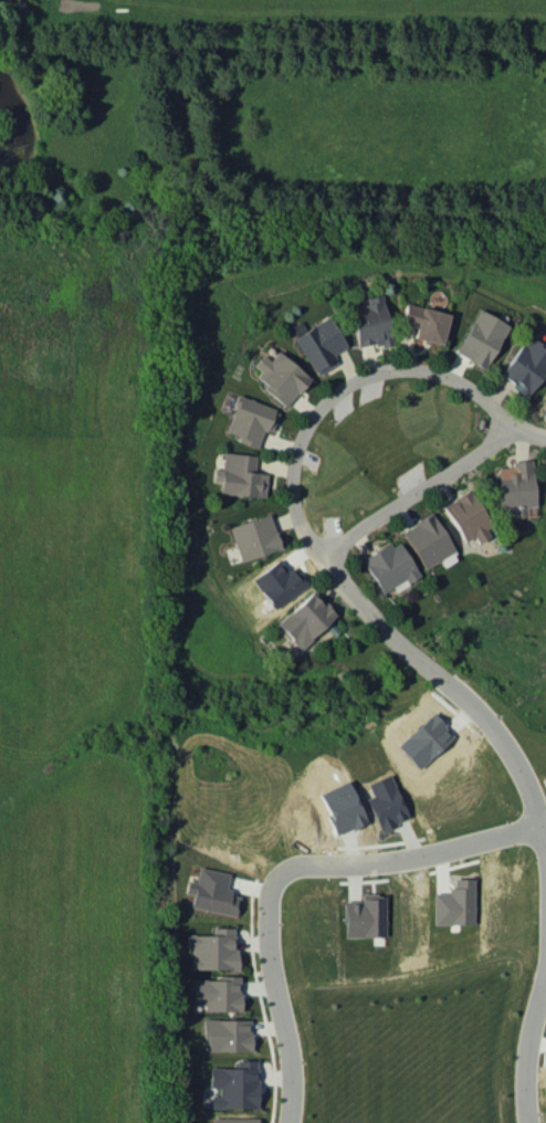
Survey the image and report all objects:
building: (370, 323)
building: (426, 323)
building: (482, 338)
building: (321, 345)
building: (526, 366)
building: (281, 377)
building: (250, 420)
building: (241, 475)
building: (515, 487)
road: (418, 490)
building: (545, 493)
building: (469, 517)
road: (303, 528)
building: (254, 537)
building: (428, 540)
building: (391, 566)
building: (279, 584)
building: (306, 619)
building: (426, 741)
building: (387, 802)
building: (342, 807)
road: (544, 833)
road: (284, 869)
building: (211, 892)
building: (455, 903)
building: (366, 915)
building: (213, 949)
building: (217, 993)
building: (227, 1033)
road: (527, 1049)
building: (235, 1084)
building: (234, 1120)

